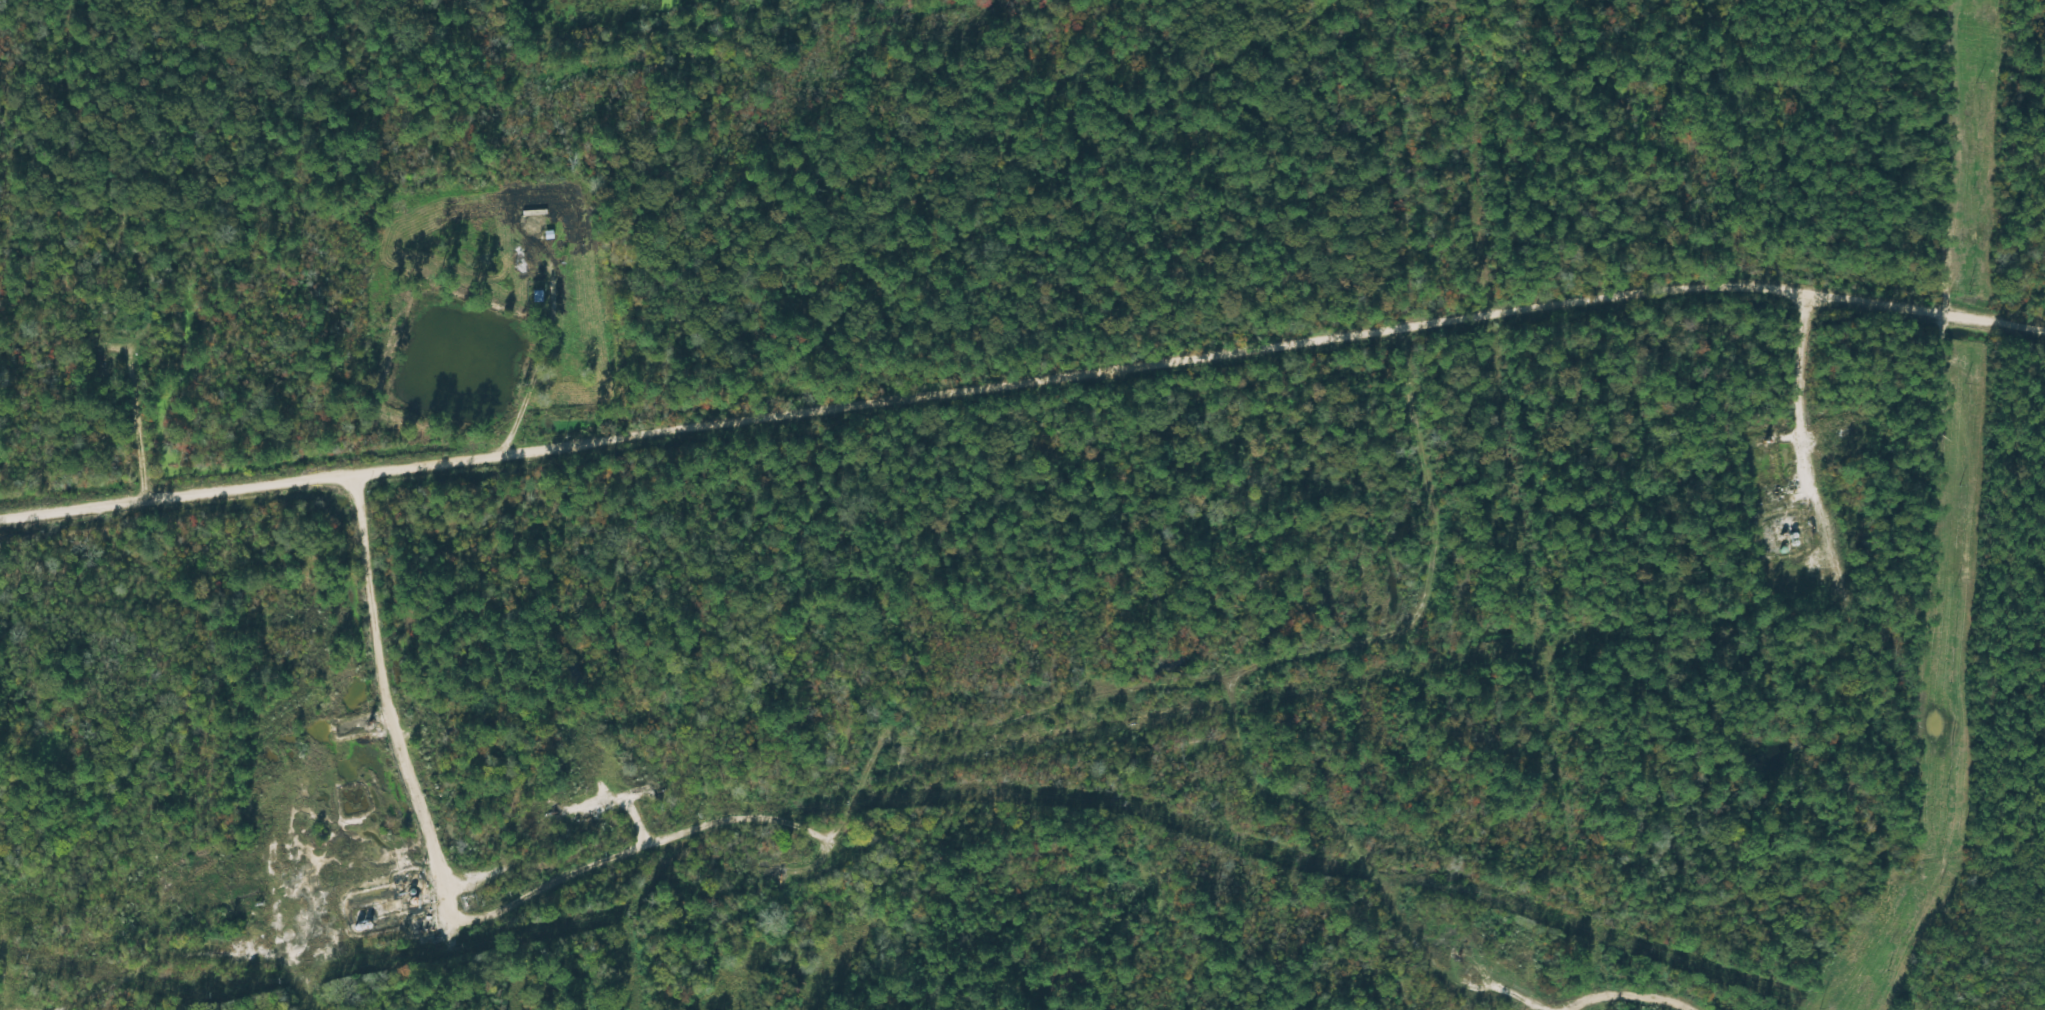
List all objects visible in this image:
road: (585, 9)
road: (1988, 30)
road: (1402, 154)
road: (601, 319)
road: (1023, 365)
road: (158, 371)
road: (1810, 437)
road: (1369, 604)
road: (454, 849)
road: (1402, 927)
road: (150, 960)
road: (1688, 1009)

